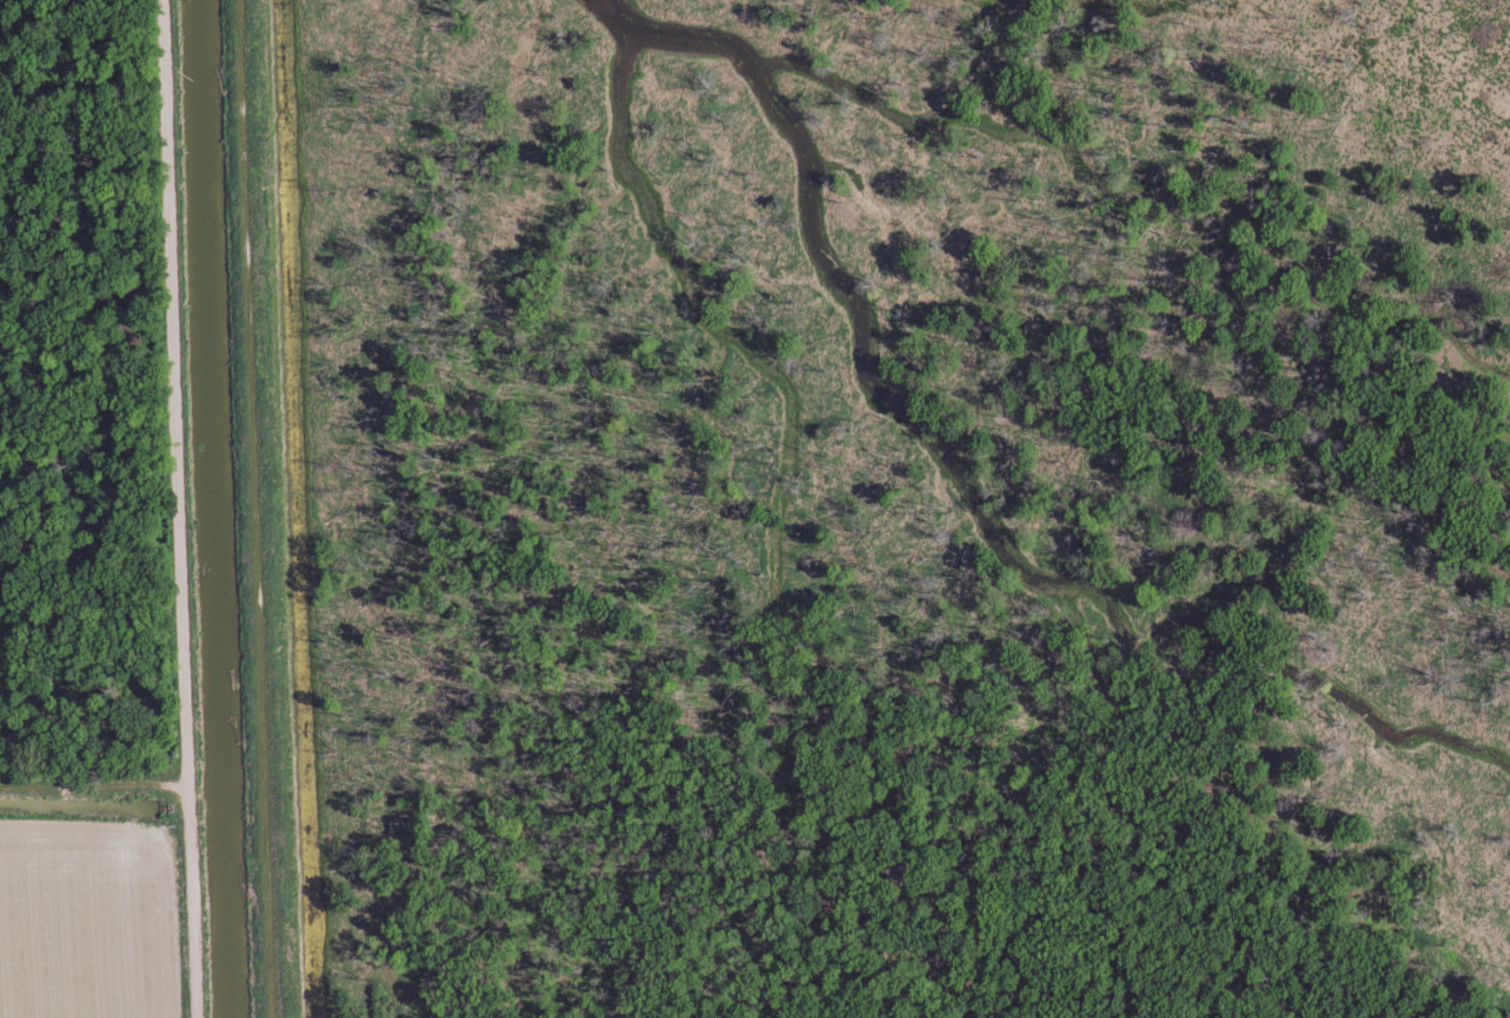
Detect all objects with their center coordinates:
road: (169, 509)

